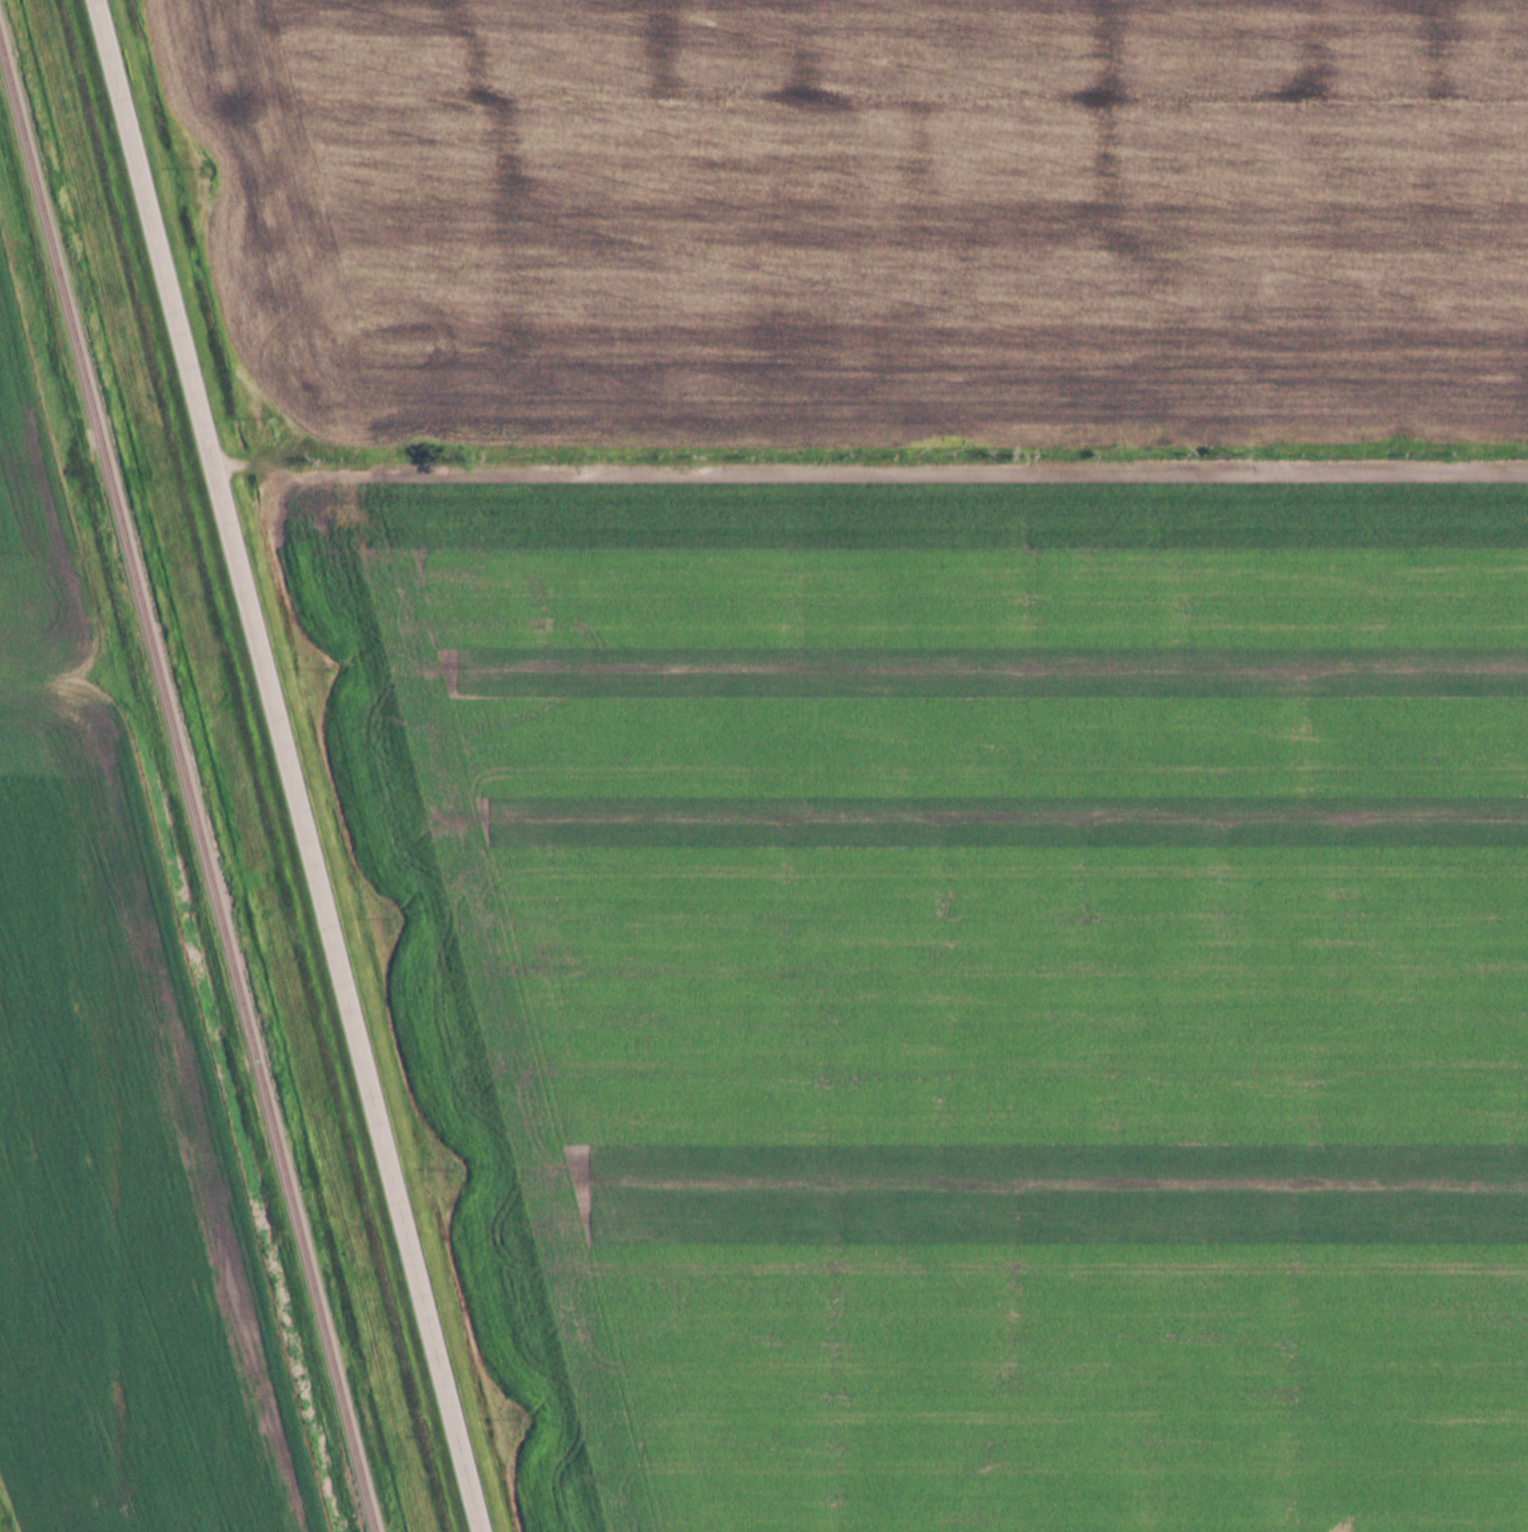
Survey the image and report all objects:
crop: (869, 227)
road: (289, 766)
railway: (188, 789)
crop: (956, 975)
crop: (108, 1096)

